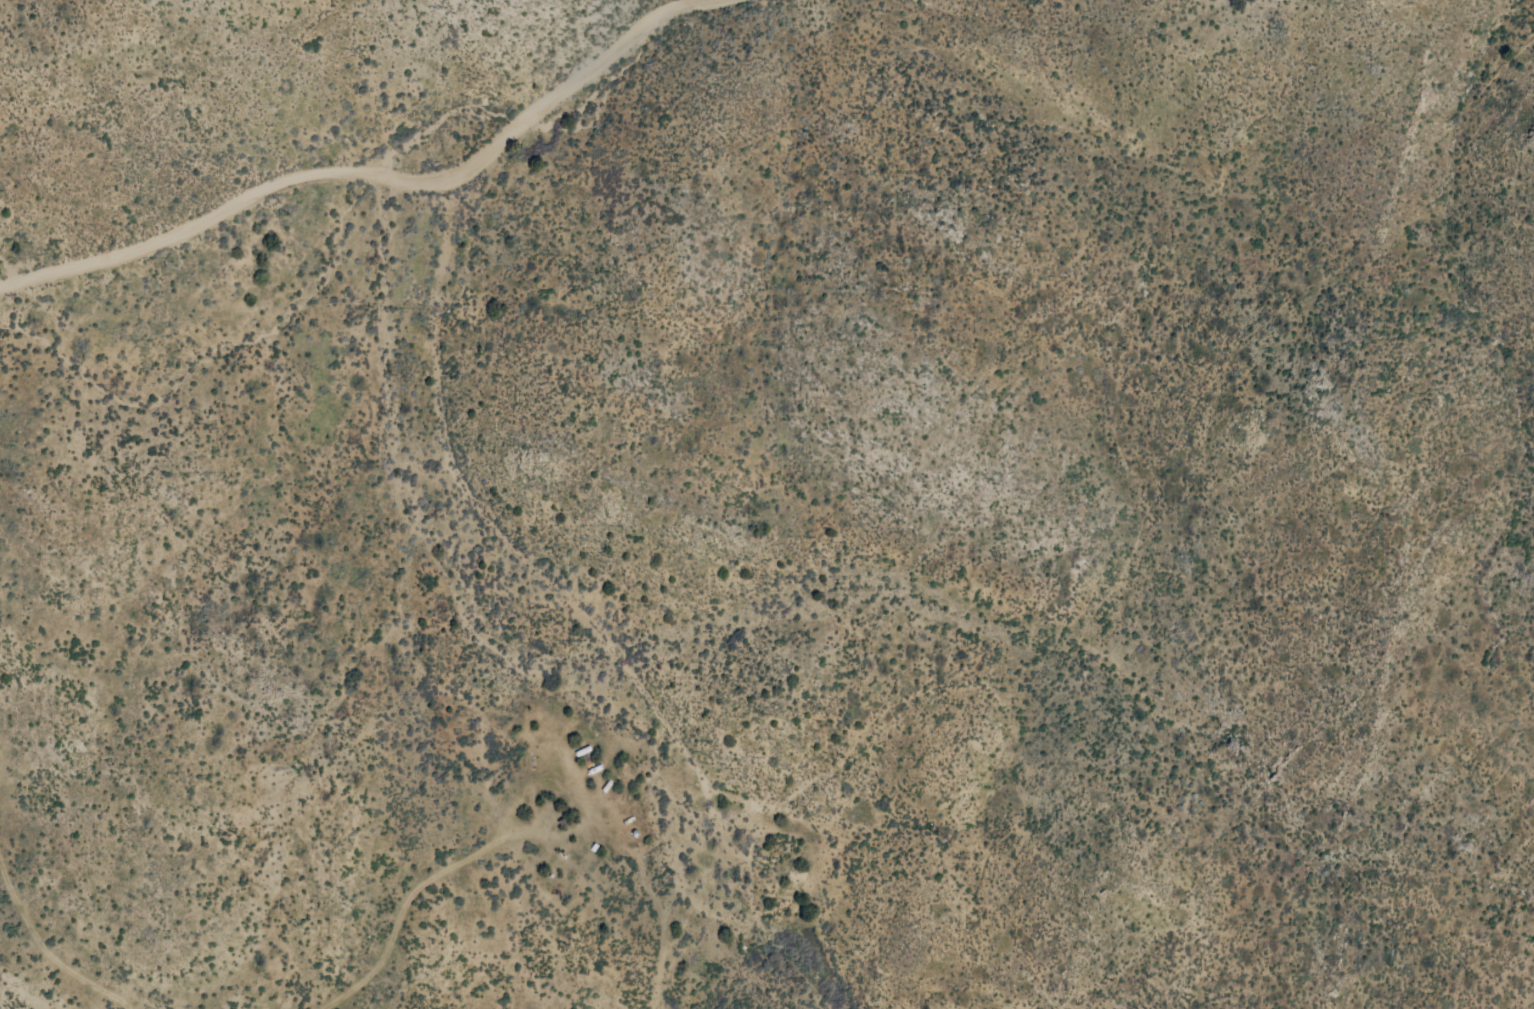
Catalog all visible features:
road: (377, 180)

